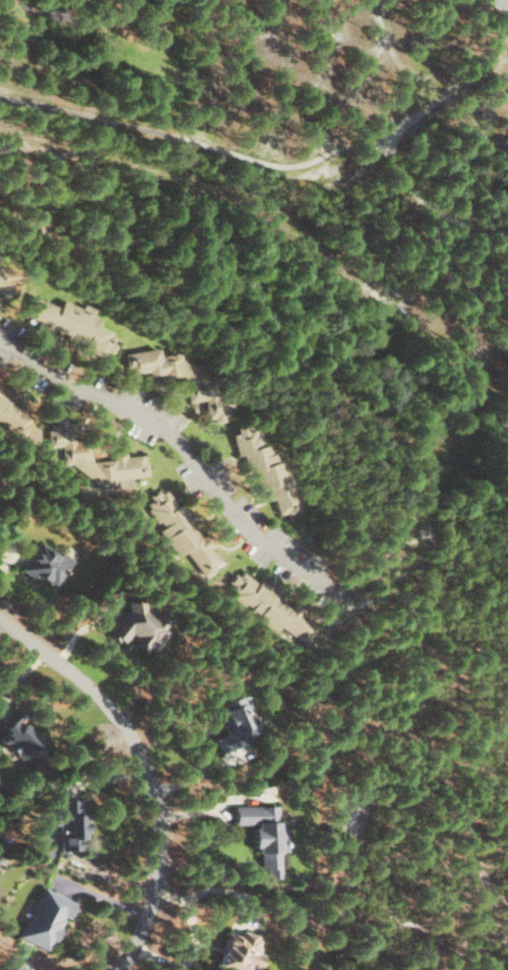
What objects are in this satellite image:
road: (506, 1)
road: (496, 94)
road: (269, 163)
building: (1, 260)
building: (7, 284)
building: (73, 323)
building: (181, 379)
building: (12, 411)
building: (77, 452)
road: (180, 452)
building: (266, 467)
building: (183, 531)
building: (47, 564)
building: (270, 606)
building: (141, 626)
building: (234, 725)
building: (22, 738)
road: (148, 765)
park: (403, 790)
building: (72, 824)
building: (266, 834)
building: (47, 918)
building: (241, 951)

